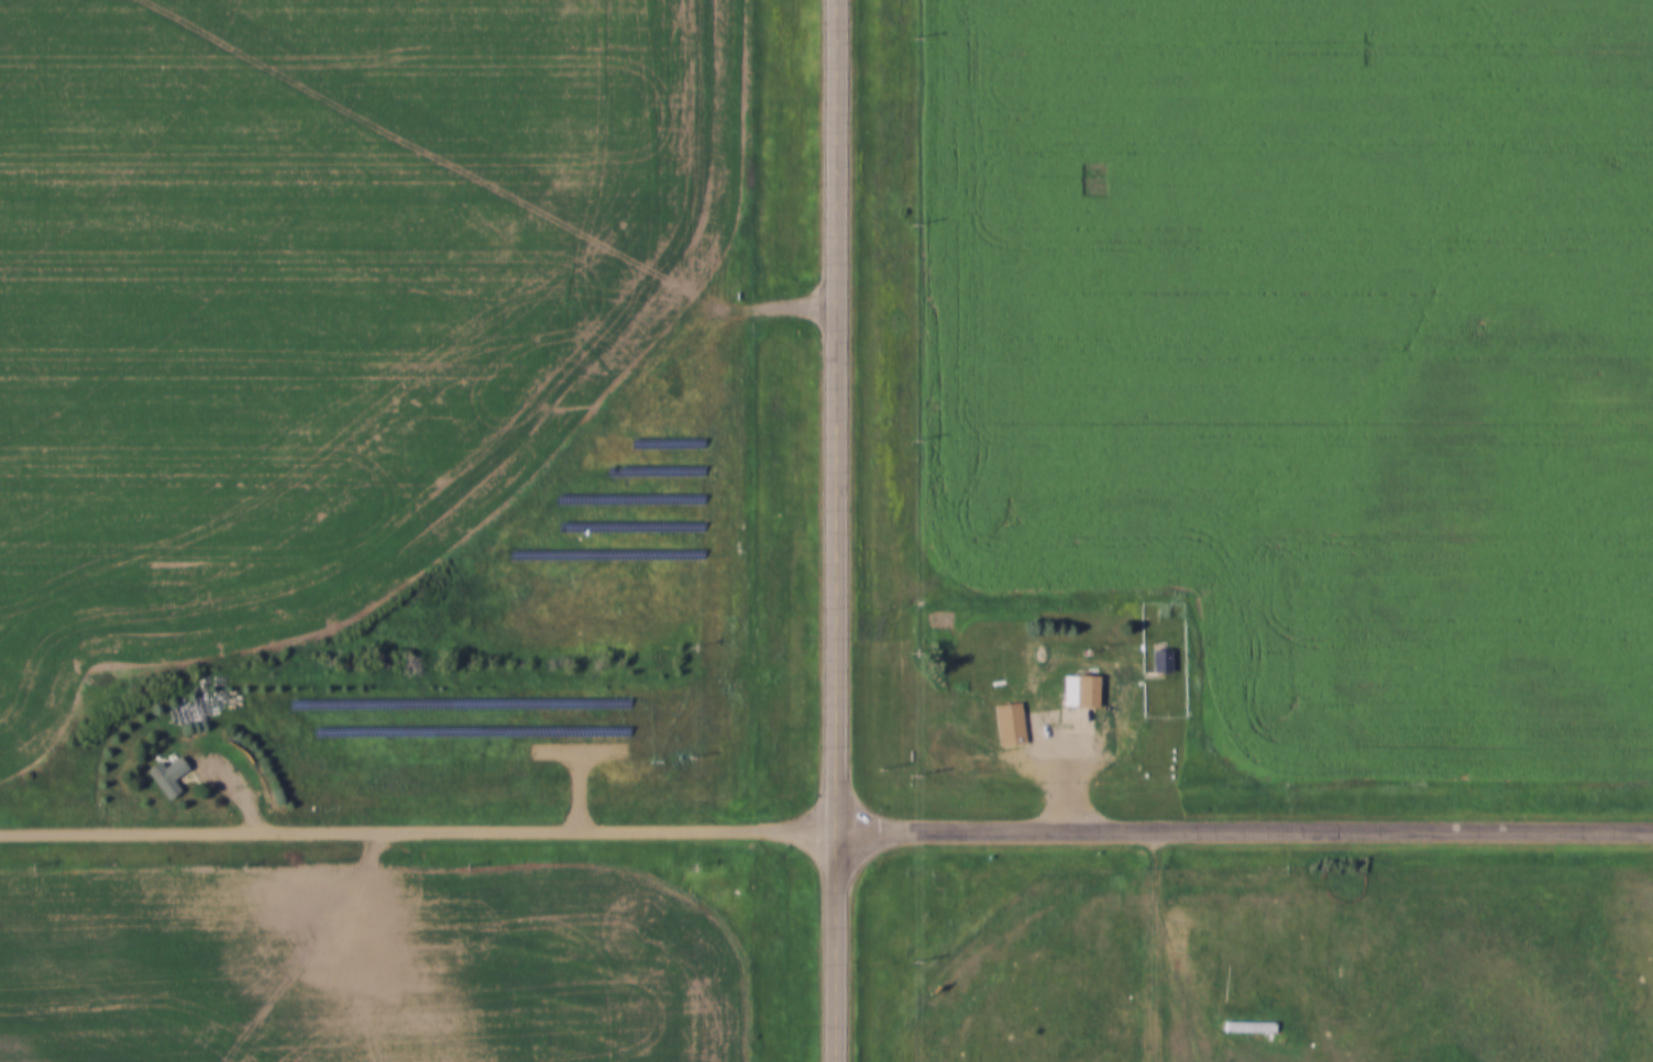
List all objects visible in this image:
road: (840, 531)
building: (1083, 690)
building: (1010, 723)
road: (1070, 770)
building: (170, 775)
road: (420, 827)
road: (1246, 830)
road: (1186, 960)
crop: (364, 970)
building: (1249, 1027)

